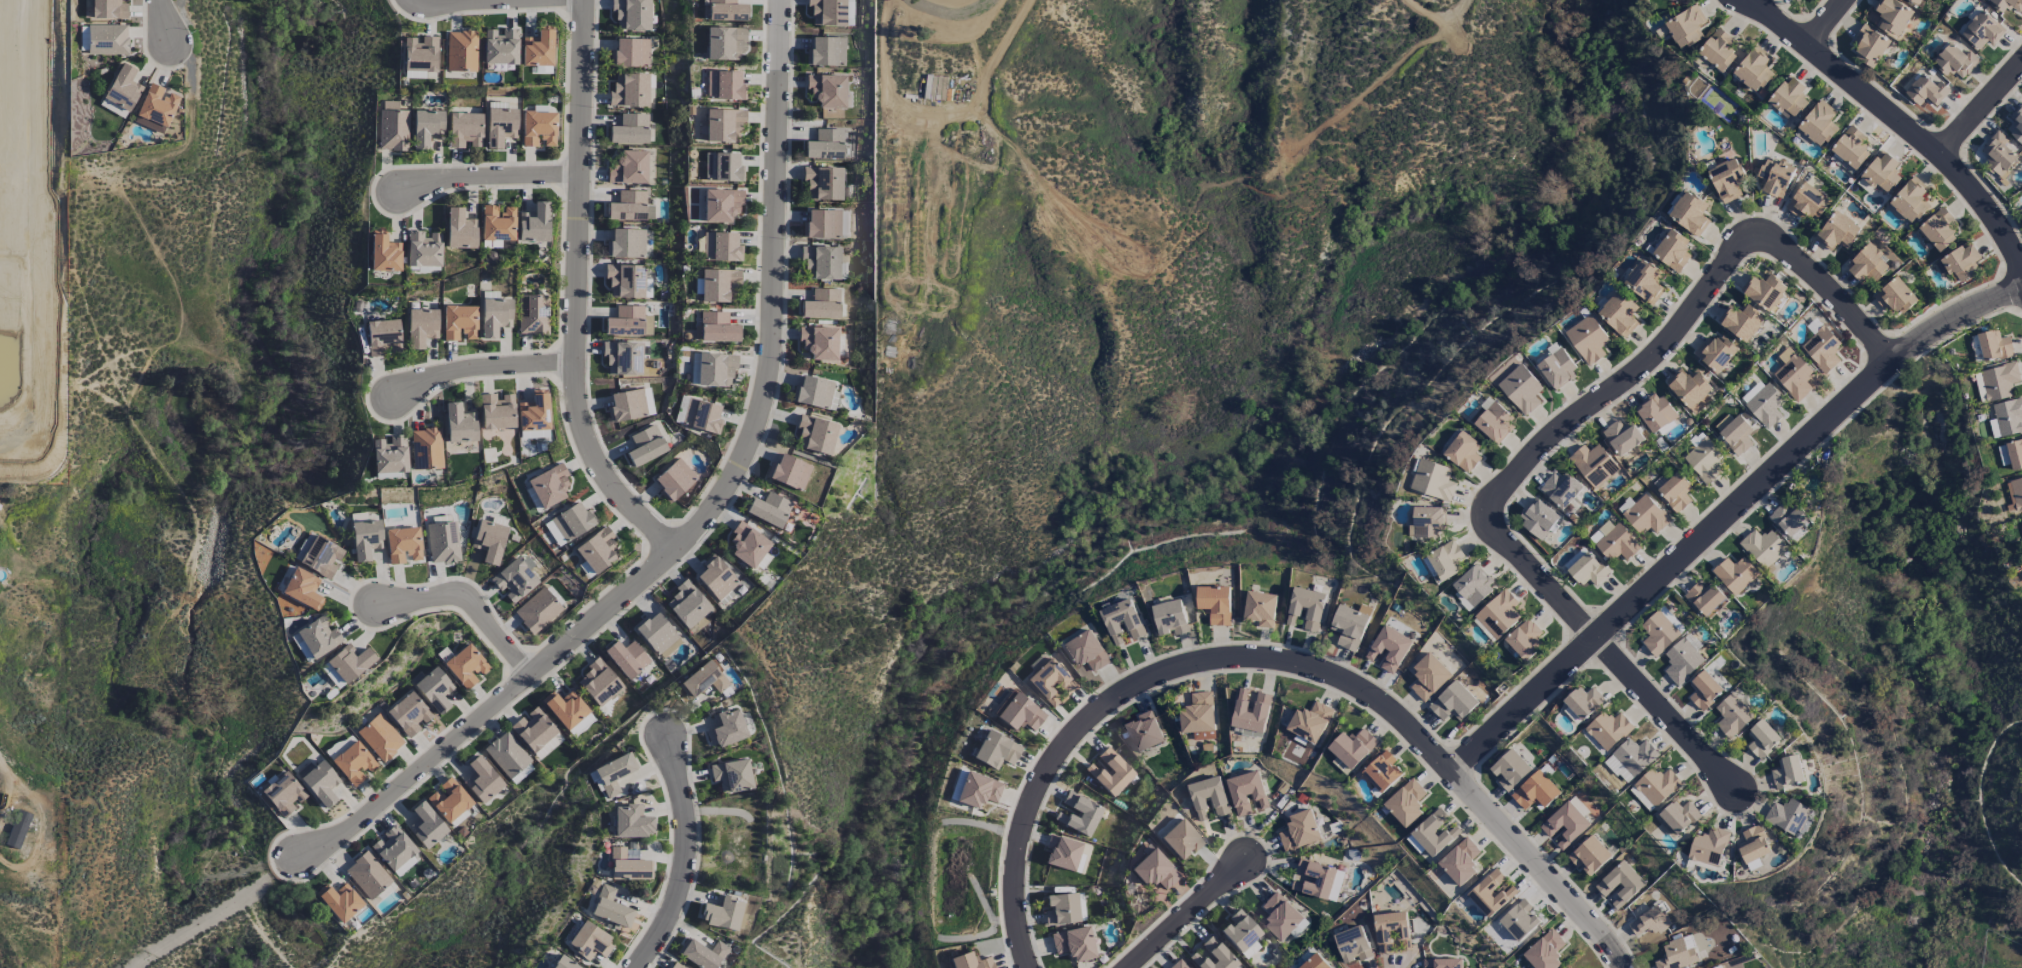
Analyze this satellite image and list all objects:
road: (465, 1)
building: (1917, 1)
building: (2007, 5)
building: (109, 9)
building: (727, 10)
building: (828, 12)
building: (632, 14)
building: (1892, 17)
road: (161, 21)
road: (1828, 22)
building: (1686, 27)
building: (1982, 31)
building: (108, 39)
building: (724, 43)
building: (1870, 46)
building: (500, 47)
building: (538, 49)
building: (1719, 50)
building: (461, 51)
building: (826, 52)
building: (420, 53)
building: (630, 53)
building: (1956, 62)
building: (1754, 70)
building: (724, 85)
building: (123, 87)
building: (629, 90)
building: (827, 90)
building: (1926, 91)
building: (1789, 98)
building: (156, 108)
road: (1983, 109)
road: (1899, 119)
building: (1818, 124)
building: (2016, 124)
building: (426, 126)
building: (500, 126)
building: (721, 126)
building: (393, 127)
building: (538, 128)
building: (464, 129)
building: (630, 129)
building: (825, 145)
building: (1851, 147)
building: (1998, 154)
building: (628, 167)
building: (722, 167)
building: (1882, 173)
building: (1775, 176)
road: (490, 177)
building: (1727, 180)
building: (823, 184)
building: (1910, 201)
building: (1807, 202)
building: (721, 204)
building: (629, 206)
building: (2021, 210)
building: (1690, 214)
building: (498, 223)
building: (534, 224)
building: (822, 224)
building: (460, 229)
building: (1939, 230)
building: (1838, 232)
building: (626, 243)
building: (721, 247)
building: (423, 249)
building: (1673, 251)
building: (384, 254)
building: (1962, 262)
building: (821, 263)
building: (1867, 264)
building: (625, 281)
building: (1645, 281)
road: (1821, 281)
building: (717, 284)
building: (1765, 291)
road: (575, 292)
building: (1896, 297)
building: (822, 304)
building: (533, 314)
building: (1620, 315)
building: (495, 316)
building: (459, 322)
building: (629, 322)
building: (1741, 322)
building: (421, 327)
building: (717, 327)
building: (382, 336)
building: (1588, 340)
building: (819, 342)
building: (1994, 346)
building: (1822, 349)
building: (1716, 353)
building: (622, 357)
road: (481, 369)
building: (716, 369)
building: (1557, 370)
building: (1794, 377)
building: (1999, 381)
road: (1617, 386)
building: (1521, 389)
building: (1690, 389)
building: (815, 393)
building: (627, 405)
building: (1764, 405)
building: (497, 411)
building: (534, 412)
building: (1655, 413)
building: (702, 416)
building: (2006, 419)
building: (459, 424)
building: (1495, 424)
building: (815, 434)
building: (1736, 434)
building: (1622, 437)
building: (645, 445)
building: (426, 448)
building: (1464, 452)
building: (2015, 454)
building: (390, 455)
building: (2003, 455)
building: (1704, 461)
building: (1593, 465)
building: (789, 472)
building: (674, 479)
building: (1433, 480)
building: (549, 485)
building: (1561, 489)
building: (1675, 493)
building: (2016, 493)
building: (769, 509)
road: (709, 513)
building: (1646, 516)
road: (1727, 517)
building: (1538, 518)
building: (1788, 519)
building: (573, 521)
building: (1428, 523)
building: (1601, 532)
building: (553, 533)
building: (365, 538)
building: (489, 540)
building: (443, 542)
building: (1617, 544)
building: (403, 545)
building: (747, 545)
building: (1763, 548)
building: (598, 550)
building: (320, 556)
building: (1444, 562)
building: (1586, 569)
building: (1735, 575)
building: (716, 577)
building: (514, 580)
building: (1473, 586)
building: (302, 588)
building: (1704, 598)
building: (1215, 604)
road: (468, 605)
building: (687, 605)
building: (1306, 608)
building: (1260, 609)
building: (537, 610)
building: (1499, 614)
building: (1170, 618)
building: (1671, 619)
building: (1122, 623)
building: (697, 625)
building: (1349, 627)
building: (1658, 634)
building: (657, 635)
building: (319, 636)
building: (1525, 639)
building: (301, 647)
building: (1389, 649)
building: (1086, 652)
road: (1610, 654)
building: (627, 658)
building: (350, 661)
building: (1682, 662)
building: (466, 666)
building: (332, 675)
building: (1429, 677)
building: (703, 680)
building: (1050, 681)
building: (598, 682)
building: (434, 690)
building: (1704, 691)
building: (1584, 702)
building: (1453, 703)
road: (1107, 707)
building: (565, 708)
building: (1251, 710)
building: (1018, 712)
building: (409, 714)
building: (1732, 715)
building: (1199, 717)
building: (1310, 722)
building: (726, 728)
building: (533, 729)
building: (1609, 729)
building: (1144, 733)
building: (380, 737)
road: (1416, 737)
building: (1762, 739)
building: (548, 746)
building: (1353, 748)
building: (996, 750)
building: (507, 754)
building: (1635, 756)
building: (354, 763)
building: (1619, 768)
building: (1510, 770)
building: (614, 772)
building: (1110, 772)
building: (1383, 772)
building: (521, 773)
building: (1787, 773)
building: (731, 775)
building: (482, 779)
building: (319, 782)
building: (1657, 786)
building: (974, 789)
building: (1536, 791)
building: (283, 793)
building: (1247, 794)
building: (1209, 799)
building: (1641, 799)
building: (449, 800)
road: (36, 802)
building: (1406, 803)
road: (1481, 806)
building: (1079, 814)
building: (1679, 816)
building: (1788, 817)
building: (631, 821)
building: (426, 825)
building: (1565, 825)
building: (18, 829)
building: (1299, 831)
building: (1435, 832)
building: (1181, 839)
building: (1753, 845)
building: (1708, 846)
building: (393, 847)
building: (1062, 853)
building: (1589, 856)
road: (687, 858)
building: (1460, 862)
building: (405, 866)
building: (629, 866)
building: (1155, 870)
building: (367, 875)
building: (1317, 880)
building: (1620, 885)
building: (1492, 893)
building: (340, 901)
road: (1569, 901)
building: (611, 908)
road: (219, 909)
building: (1061, 909)
building: (722, 912)
road: (1188, 915)
building: (1281, 916)
building: (1520, 920)
building: (1650, 922)
park: (1942, 930)
building: (1391, 933)
building: (589, 941)
building: (1073, 943)
building: (1353, 945)
building: (1545, 951)
building: (702, 953)
building: (1677, 954)
building: (1212, 955)
building: (970, 961)
building: (1315, 962)
building: (563, 963)
building: (1442, 963)
building: (1178, 964)
building: (677, 966)

